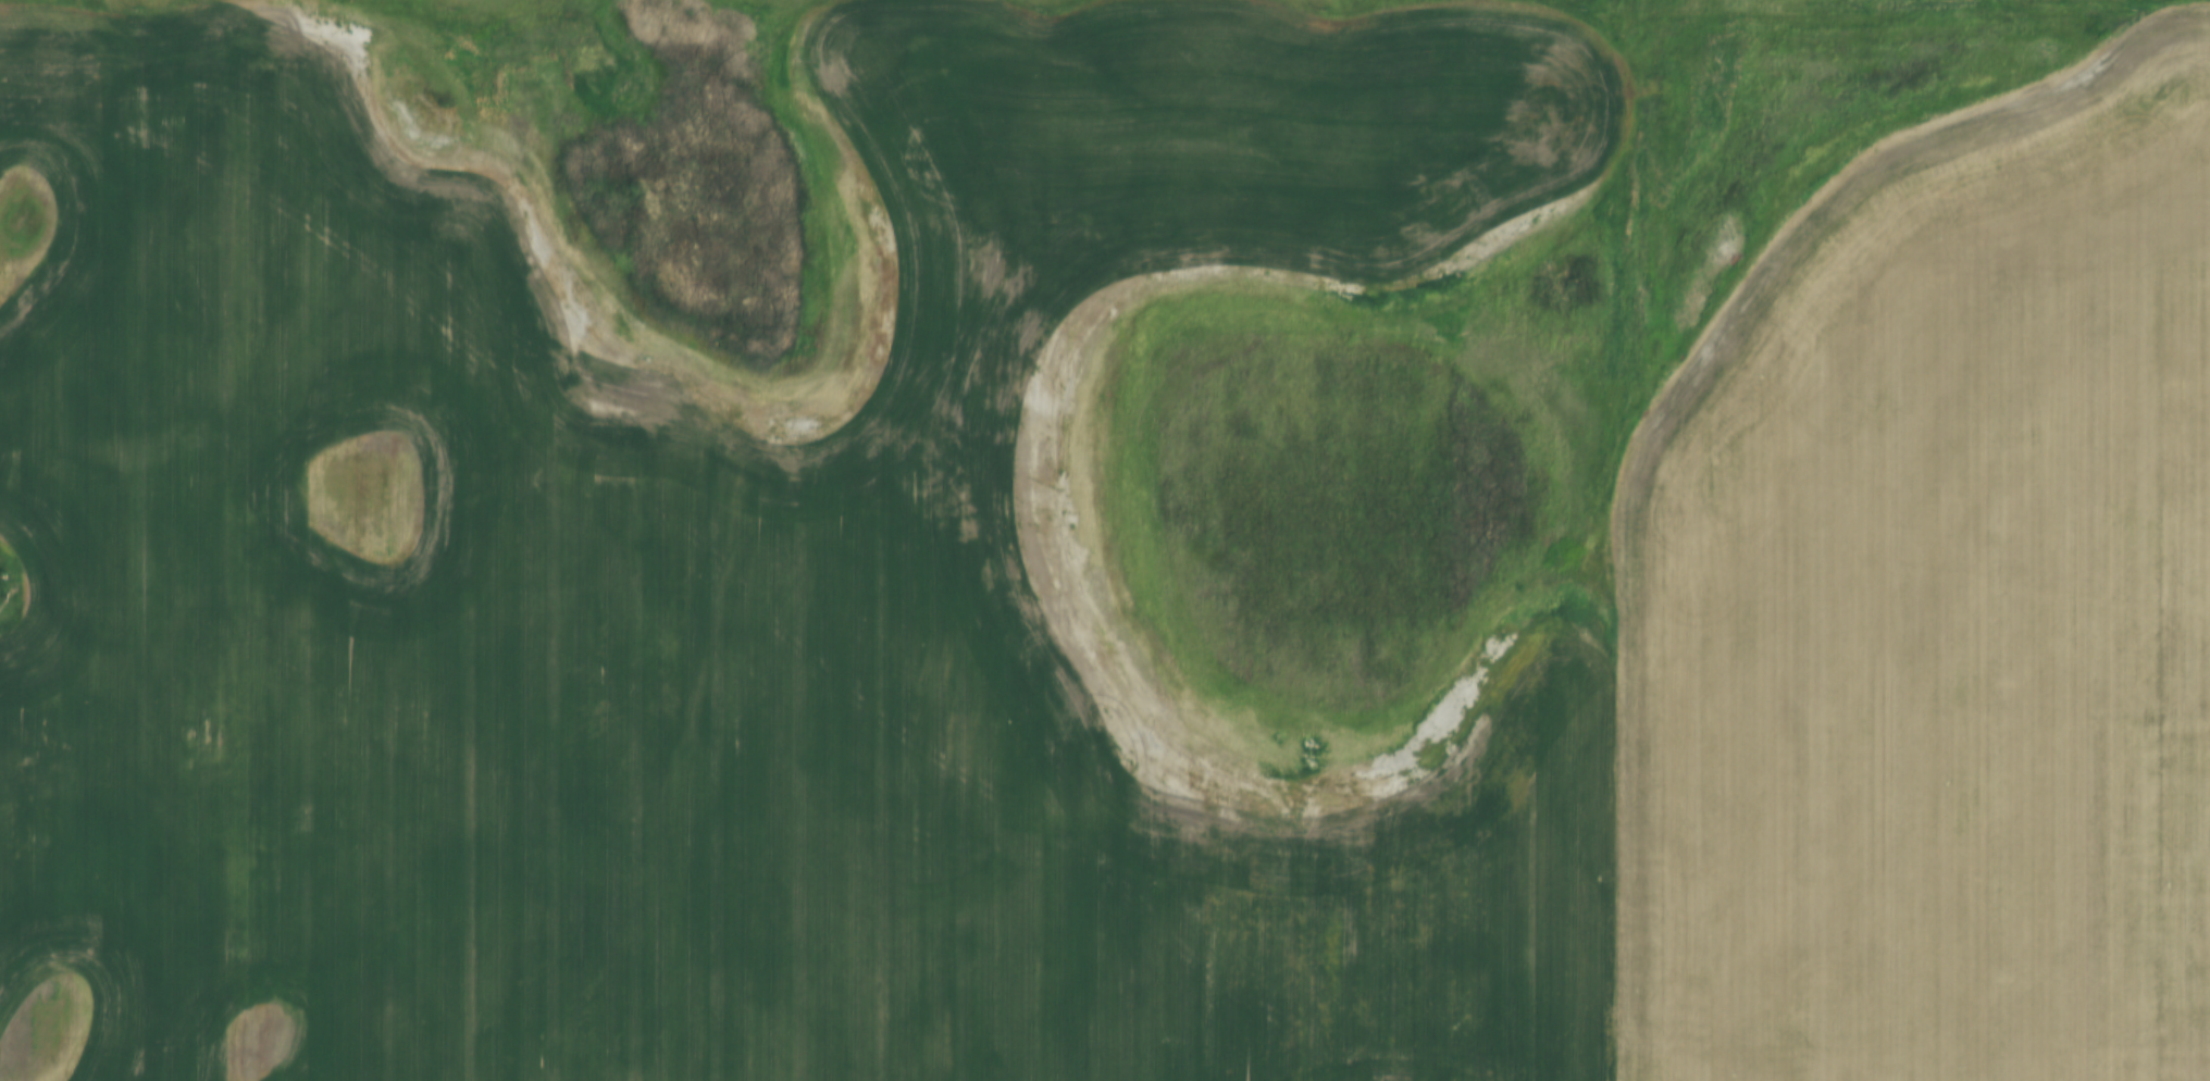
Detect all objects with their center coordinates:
road: (1631, 539)

